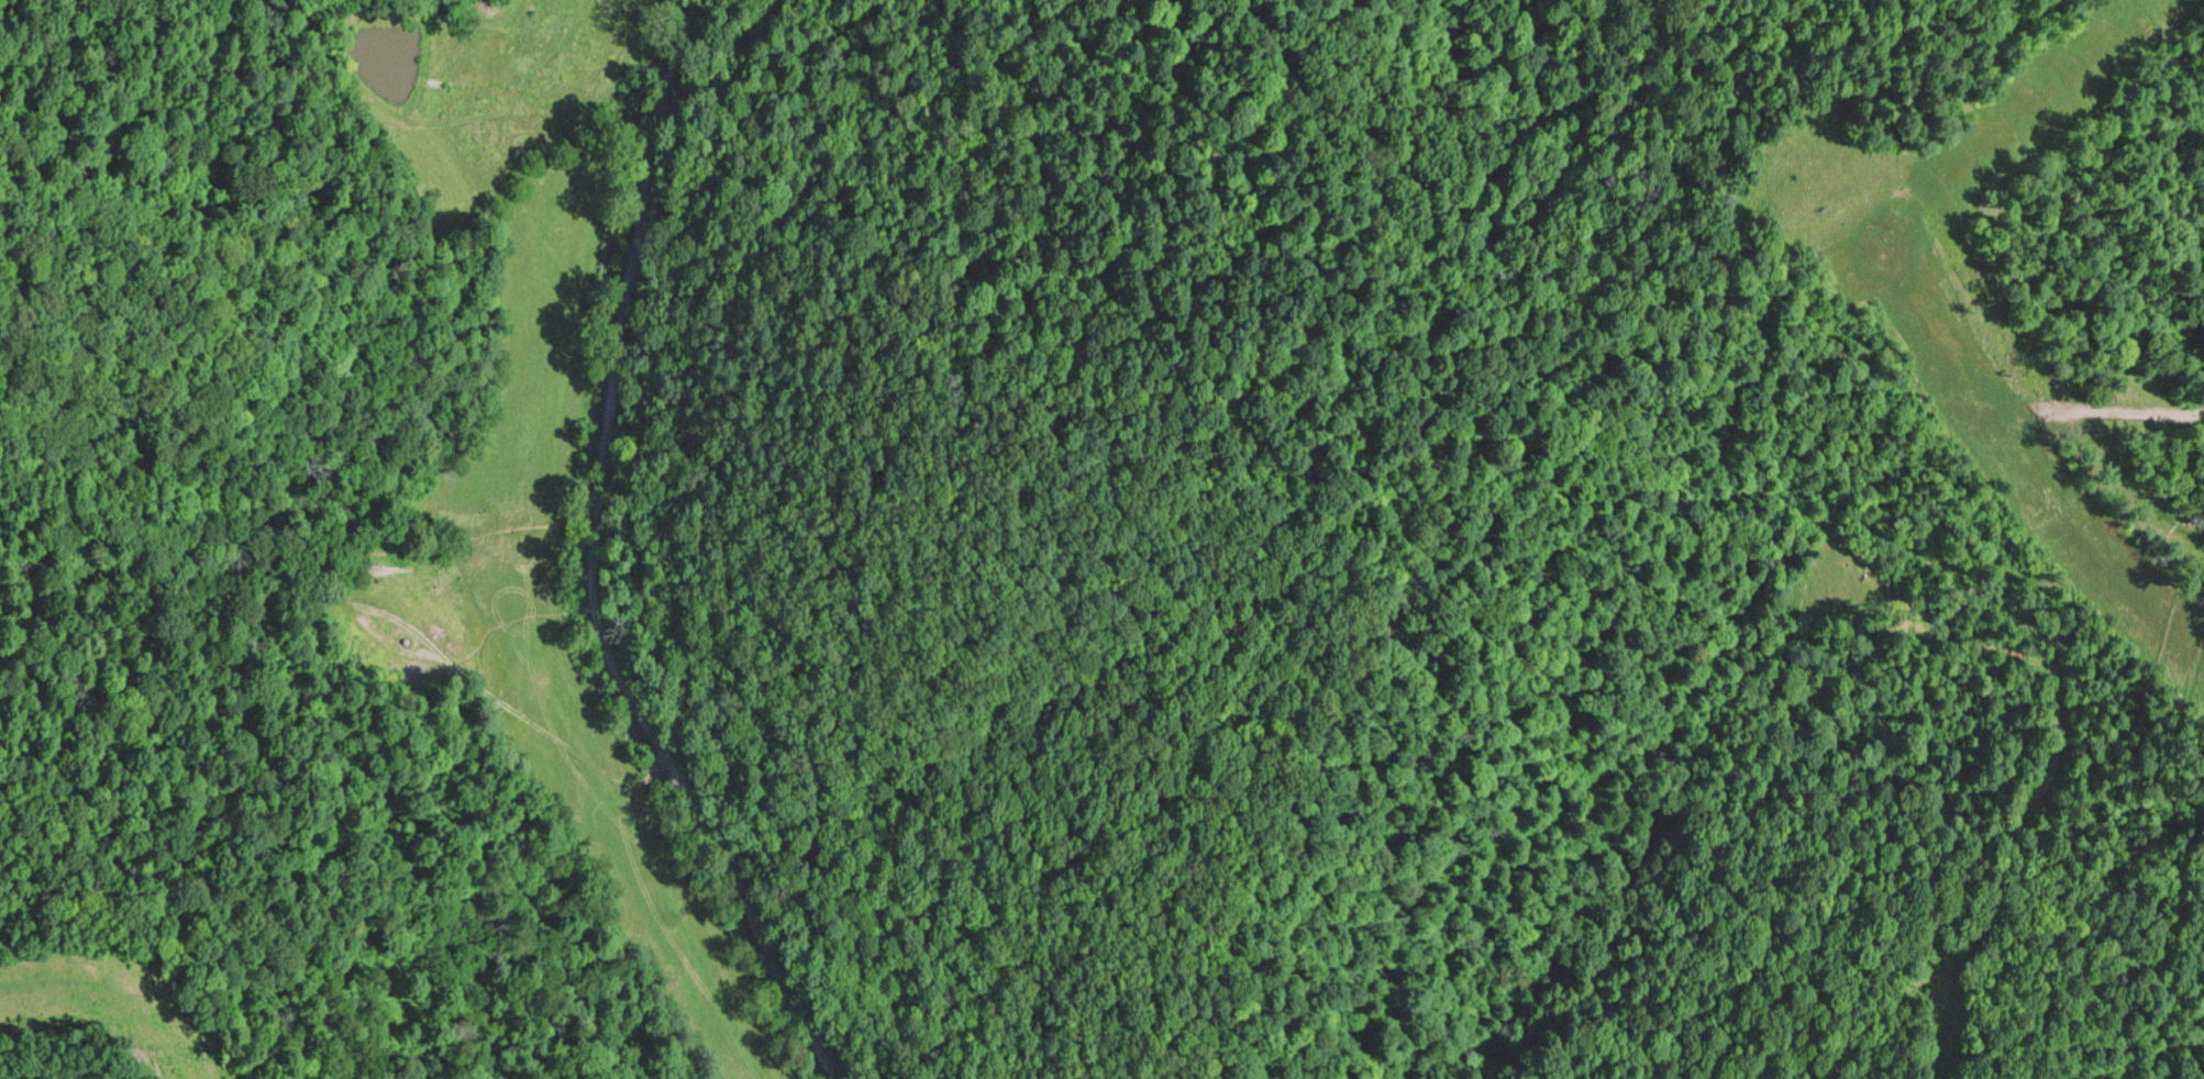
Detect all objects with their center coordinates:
road: (596, 564)

